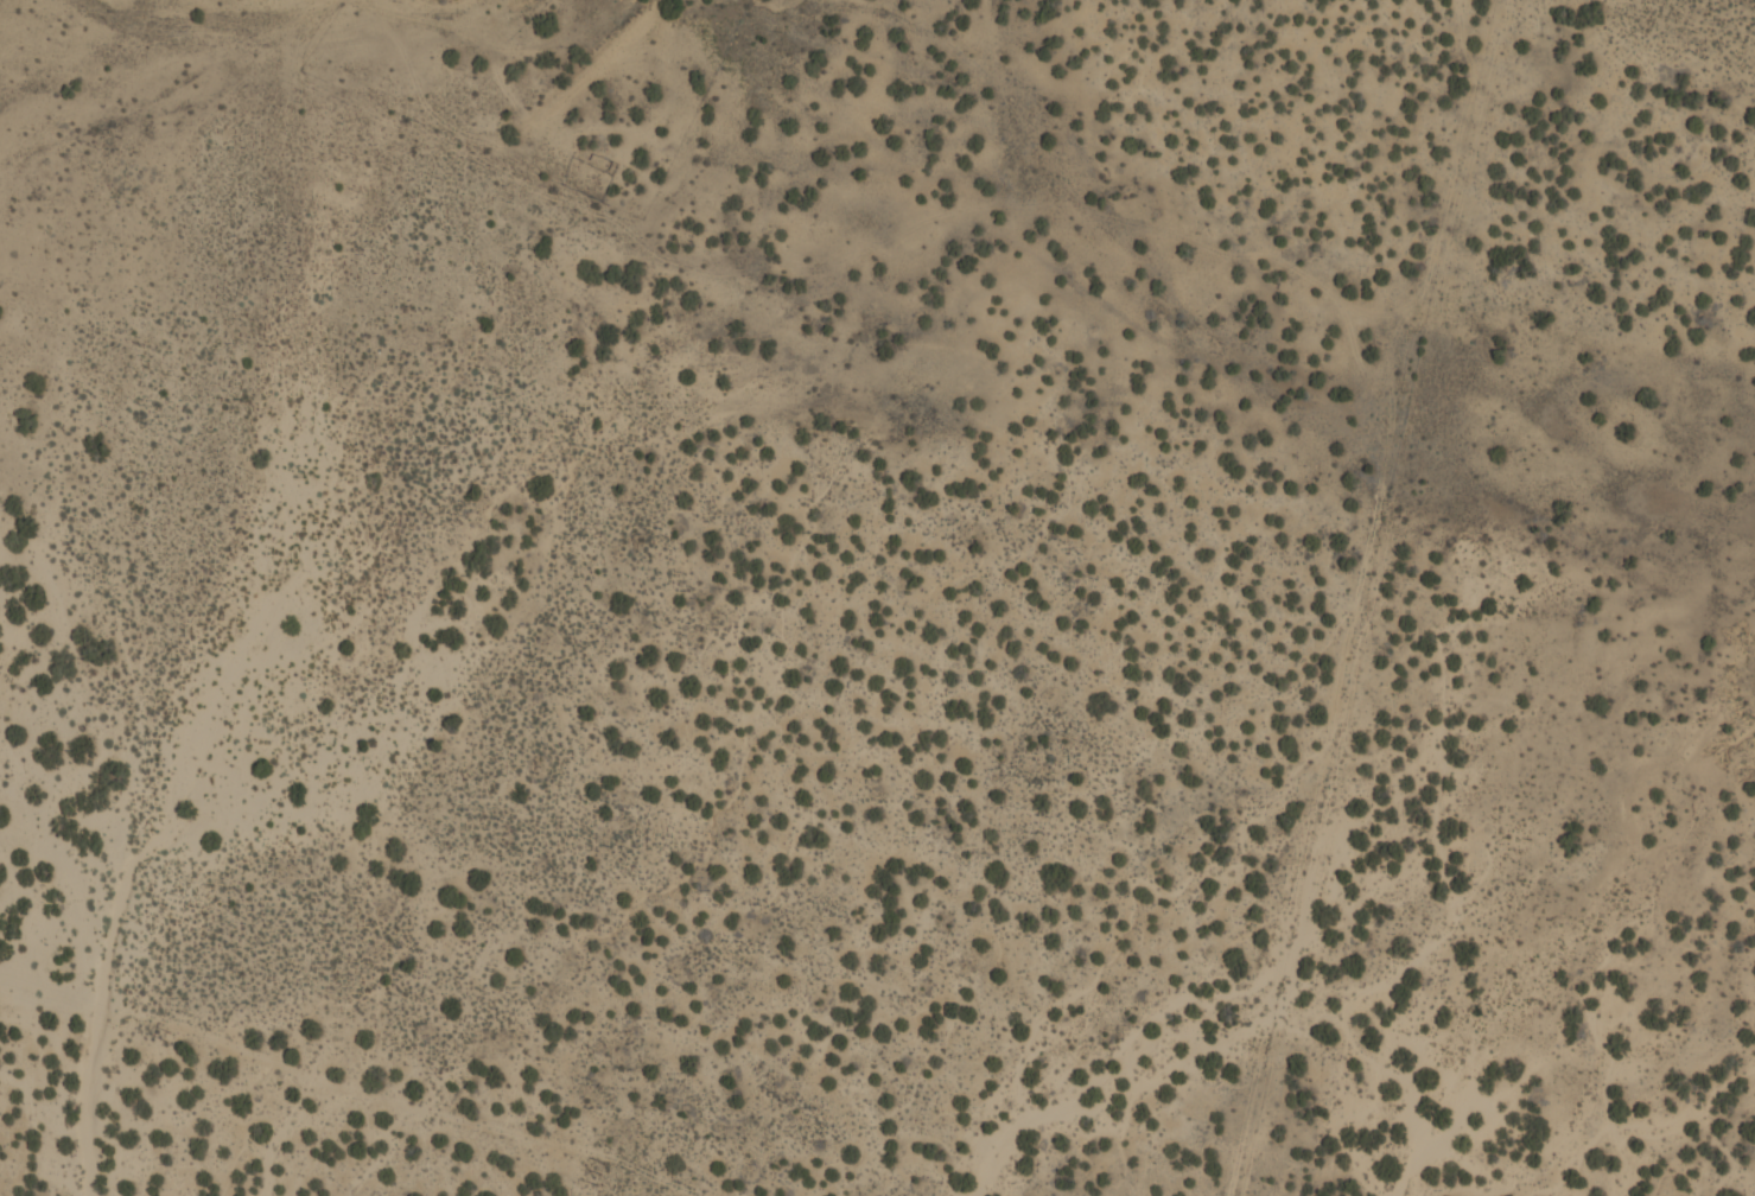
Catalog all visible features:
power tower: (168, 1036)
power tower: (603, 1173)

